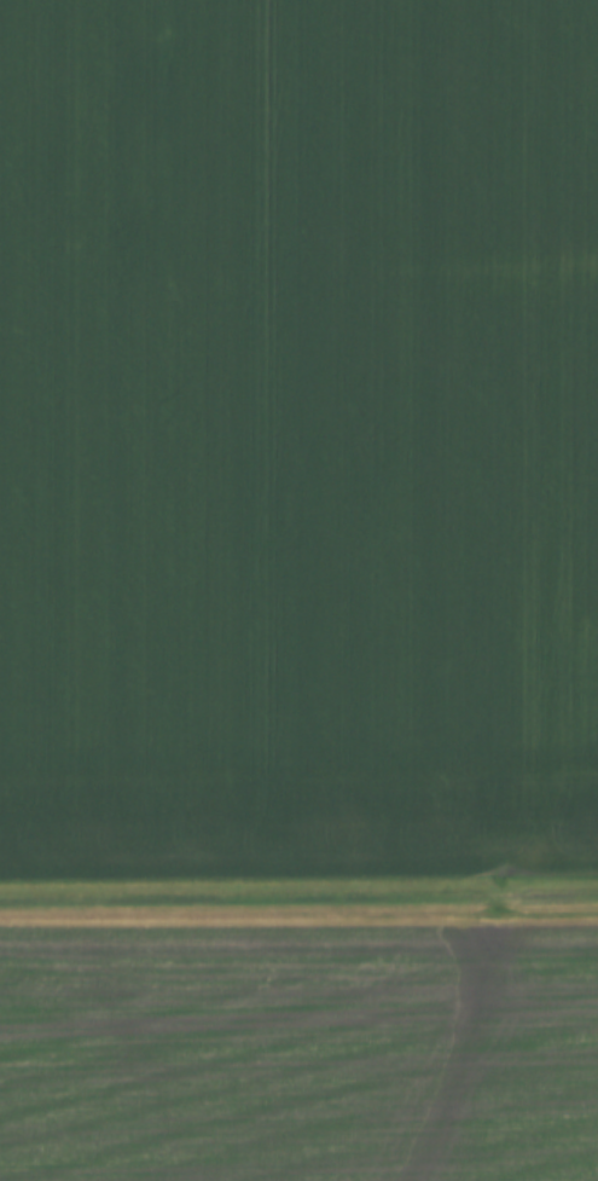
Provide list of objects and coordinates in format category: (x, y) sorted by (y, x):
road: (298, 910)

